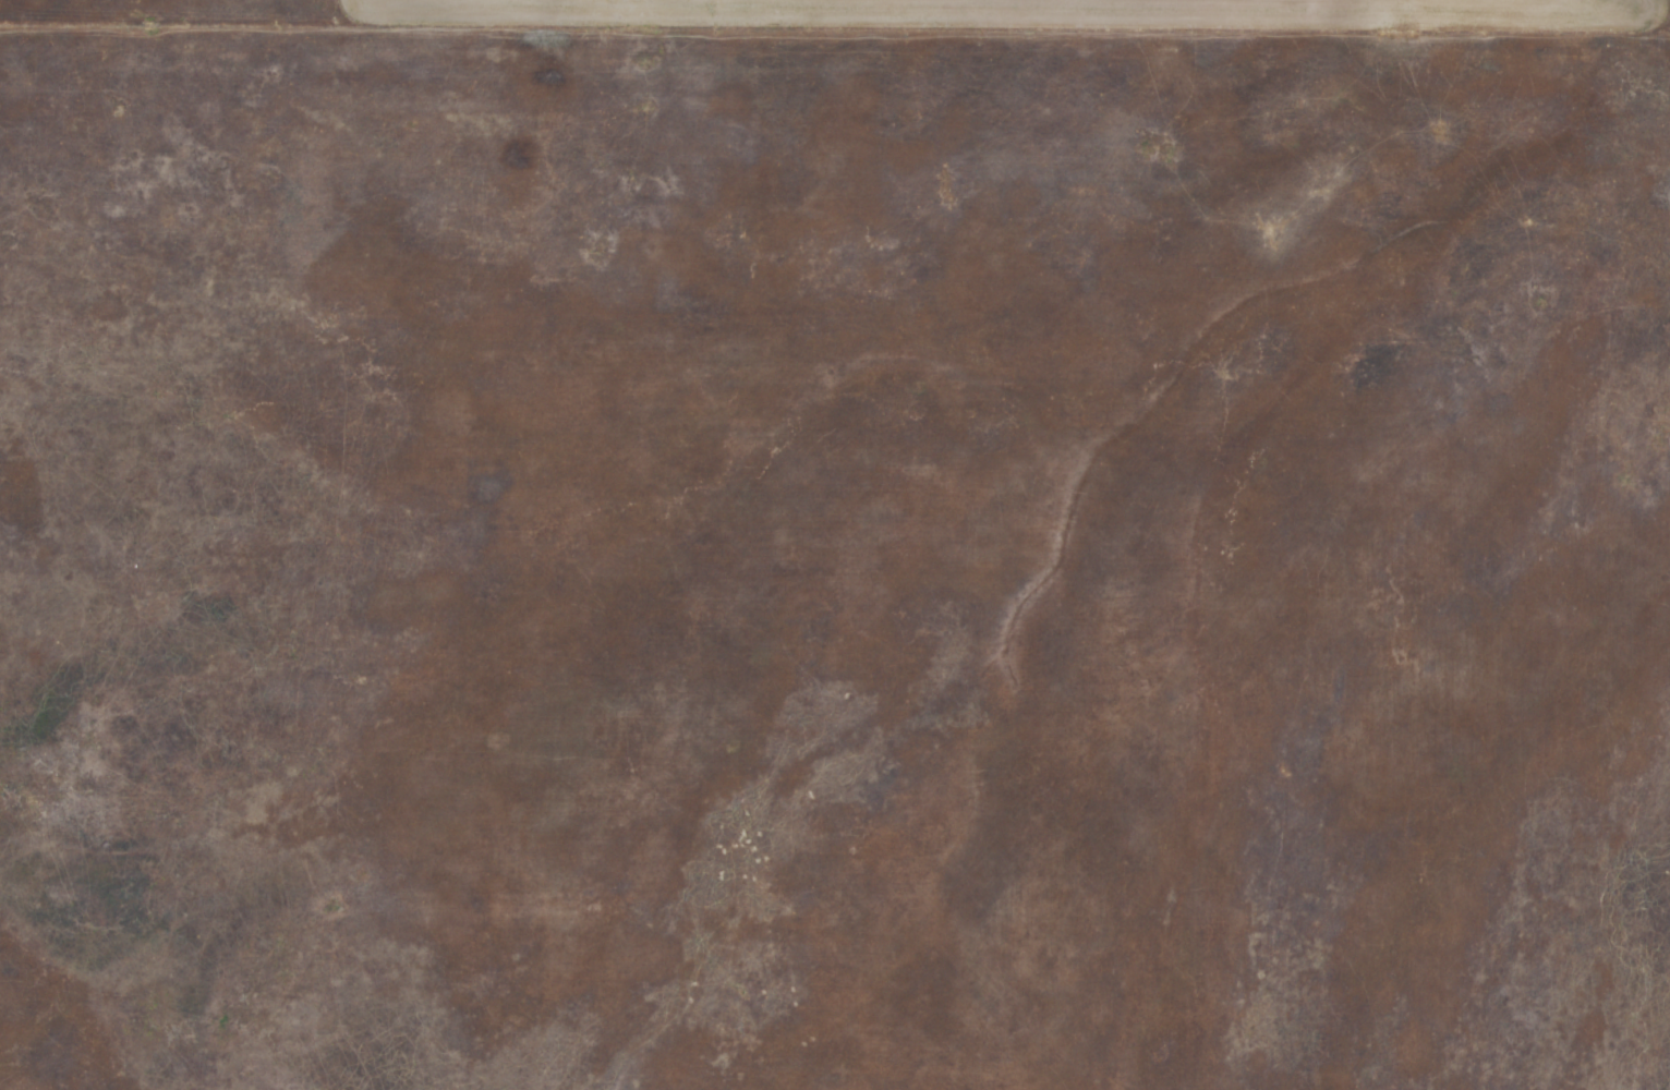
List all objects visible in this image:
solar farm: (834, 559)

